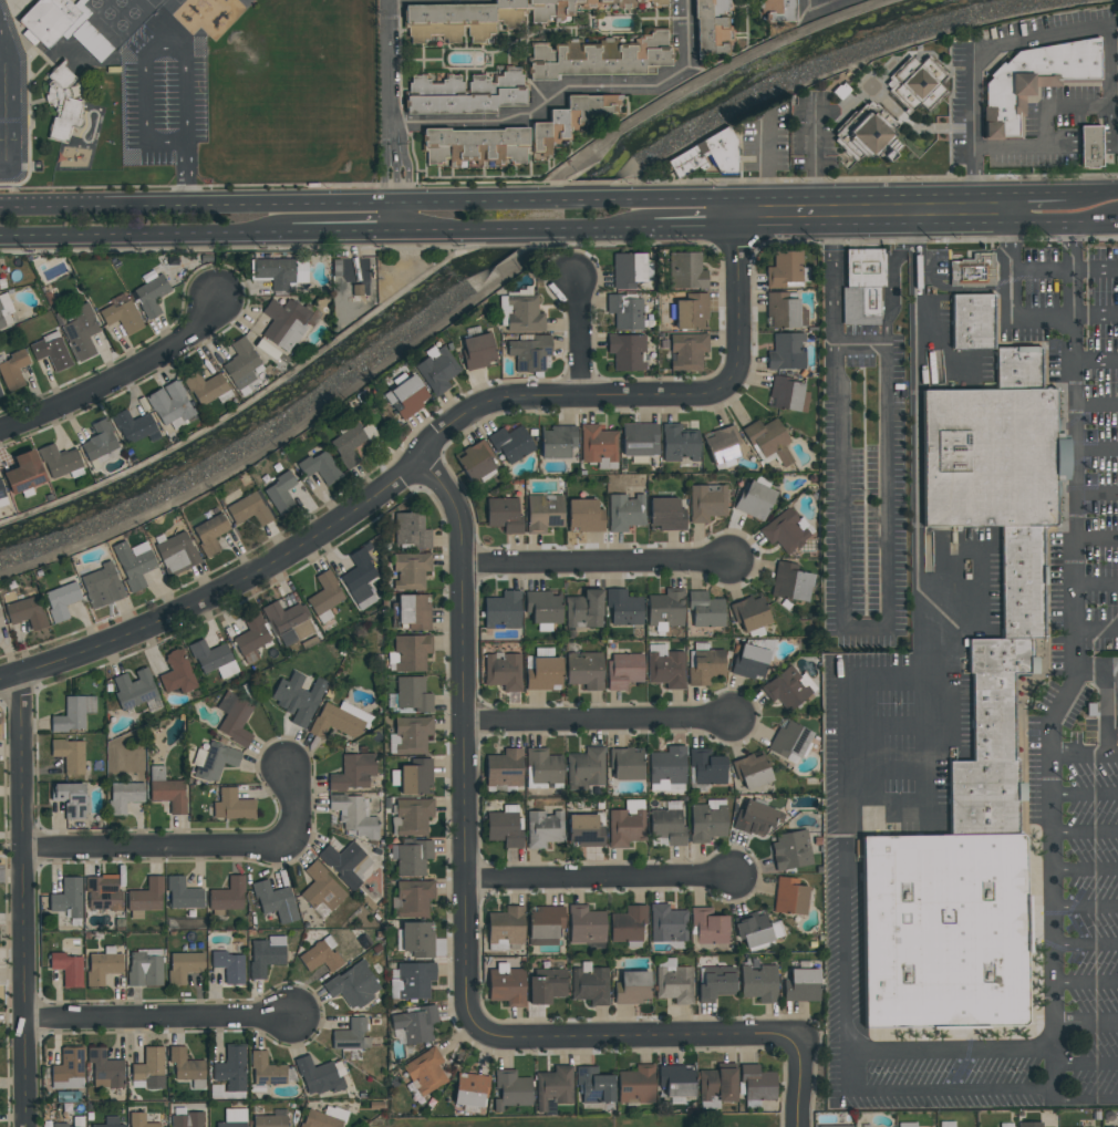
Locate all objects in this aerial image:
road: (426, 0)
building: (634, 2)
road: (811, 2)
road: (820, 2)
building: (551, 10)
building: (778, 10)
building: (714, 18)
park: (296, 20)
building: (455, 21)
road: (1093, 29)
road: (684, 35)
road: (144, 45)
building: (599, 58)
road: (391, 72)
building: (1032, 80)
building: (915, 83)
building: (465, 94)
road: (4, 103)
building: (62, 104)
road: (544, 110)
building: (570, 120)
park: (253, 130)
building: (863, 138)
building: (476, 146)
building: (1089, 146)
building: (705, 155)
road: (186, 172)
road: (397, 174)
road: (1094, 193)
road: (1037, 194)
road: (689, 199)
road: (530, 201)
road: (414, 204)
road: (199, 205)
road: (876, 209)
road: (401, 218)
road: (1095, 221)
road: (1037, 223)
road: (697, 227)
road: (642, 228)
road: (531, 229)
road: (415, 230)
road: (200, 232)
road: (451, 269)
building: (627, 269)
road: (1072, 269)
building: (786, 270)
building: (972, 270)
building: (280, 271)
building: (686, 271)
road: (924, 271)
road: (932, 272)
road: (1063, 273)
road: (892, 277)
building: (1, 282)
building: (861, 286)
building: (149, 296)
building: (519, 311)
building: (624, 311)
building: (780, 311)
building: (6, 312)
building: (691, 312)
building: (121, 313)
road: (1010, 316)
building: (286, 322)
building: (80, 331)
road: (578, 334)
road: (1075, 339)
road: (860, 345)
building: (50, 350)
building: (477, 350)
building: (625, 351)
building: (686, 351)
building: (785, 352)
building: (530, 353)
building: (240, 364)
building: (436, 369)
building: (12, 370)
road: (118, 374)
building: (206, 387)
building: (0, 394)
building: (787, 395)
building: (405, 396)
building: (168, 403)
road: (1097, 405)
road: (917, 422)
road: (298, 425)
building: (132, 426)
road: (1077, 428)
building: (639, 440)
building: (99, 441)
building: (767, 441)
building: (351, 442)
road: (429, 442)
building: (556, 442)
building: (677, 443)
building: (721, 443)
building: (510, 444)
building: (598, 444)
road: (1098, 451)
building: (58, 461)
building: (474, 461)
building: (319, 467)
building: (23, 472)
building: (279, 493)
road: (1098, 493)
building: (2, 496)
building: (754, 500)
building: (706, 502)
building: (248, 509)
building: (624, 511)
building: (542, 513)
building: (503, 514)
building: (664, 514)
building: (583, 515)
building: (785, 530)
building: (408, 531)
building: (209, 534)
building: (176, 552)
building: (133, 565)
road: (602, 565)
building: (411, 570)
building: (359, 576)
building: (790, 582)
building: (102, 586)
road: (1096, 586)
road: (838, 588)
building: (324, 593)
building: (61, 600)
building: (544, 606)
building: (22, 607)
building: (623, 607)
building: (665, 608)
building: (583, 609)
building: (703, 610)
building: (414, 611)
building: (501, 611)
building: (749, 613)
building: (282, 617)
building: (1, 622)
road: (948, 628)
road: (1075, 630)
road: (1096, 632)
building: (251, 635)
building: (412, 652)
building: (544, 652)
building: (209, 655)
building: (750, 662)
building: (1003, 662)
road: (1111, 662)
road: (1090, 663)
building: (705, 668)
building: (584, 670)
building: (624, 670)
building: (665, 670)
building: (503, 672)
building: (178, 673)
building: (545, 674)
building: (786, 687)
building: (134, 690)
building: (413, 694)
building: (298, 697)
road: (1107, 710)
building: (70, 715)
road: (846, 718)
building: (236, 723)
building: (335, 723)
road: (603, 725)
road: (889, 727)
building: (412, 734)
building: (788, 741)
road: (465, 742)
building: (69, 755)
building: (216, 761)
building: (625, 763)
building: (544, 766)
building: (667, 766)
building: (586, 767)
building: (706, 767)
building: (504, 769)
building: (752, 771)
road: (887, 771)
building: (353, 773)
building: (417, 777)
building: (168, 795)
road: (1085, 795)
building: (125, 796)
building: (70, 799)
building: (235, 805)
building: (353, 816)
building: (414, 816)
building: (754, 819)
building: (706, 823)
building: (625, 827)
building: (667, 827)
building: (544, 828)
building: (505, 829)
building: (584, 831)
road: (1085, 833)
road: (193, 846)
building: (791, 850)
road: (1052, 856)
building: (413, 858)
building: (342, 864)
road: (1085, 871)
road: (601, 879)
building: (321, 888)
building: (103, 893)
building: (183, 895)
building: (146, 896)
building: (228, 896)
building: (68, 897)
building: (790, 897)
building: (414, 898)
road: (19, 900)
building: (275, 901)
road: (1086, 908)
building: (749, 923)
building: (545, 924)
building: (628, 924)
building: (667, 924)
building: (586, 926)
building: (506, 927)
building: (708, 927)
building: (418, 939)
road: (1086, 945)
building: (265, 958)
building: (320, 959)
building: (184, 966)
building: (229, 966)
building: (102, 968)
building: (68, 969)
building: (145, 972)
building: (415, 980)
building: (716, 982)
building: (758, 983)
building: (353, 985)
building: (674, 985)
building: (507, 986)
building: (590, 986)
building: (803, 986)
building: (632, 989)
building: (545, 990)
road: (151, 1023)
road: (1073, 1023)
building: (415, 1024)
building: (350, 1034)
road: (644, 1036)
building: (185, 1065)
building: (69, 1066)
building: (149, 1068)
building: (104, 1069)
building: (232, 1069)
building: (266, 1069)
building: (425, 1072)
road: (852, 1073)
building: (318, 1076)
road: (1055, 1076)
building: (676, 1081)
road: (801, 1082)
building: (757, 1083)
building: (717, 1084)
building: (593, 1085)
building: (635, 1085)
building: (553, 1087)
building: (470, 1089)
building: (511, 1090)
building: (187, 1119)
building: (139, 1120)
building: (319, 1120)
park: (742, 1120)
building: (270, 1121)
building: (946, 1124)
building: (59, 1125)
building: (230, 1125)
building: (905, 1125)
building: (1006, 1125)
building: (1031, 1125)
building: (106, 1126)
building: (835, 1126)

